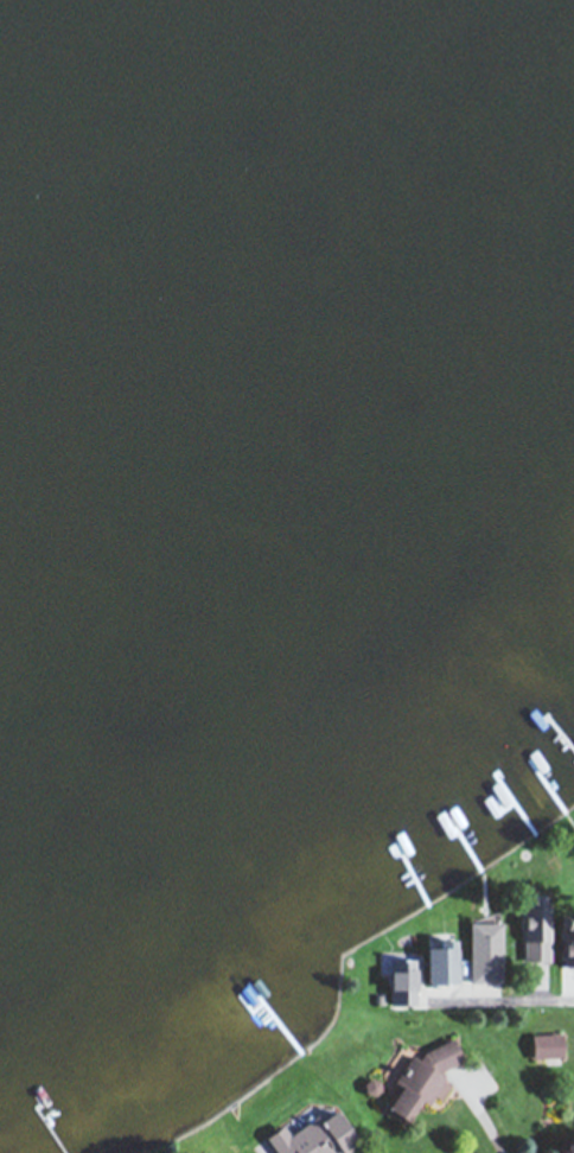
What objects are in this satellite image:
building: (536, 941)
building: (568, 948)
building: (486, 951)
building: (441, 963)
building: (402, 981)
road: (547, 998)
building: (548, 1044)
building: (422, 1077)
building: (320, 1136)

